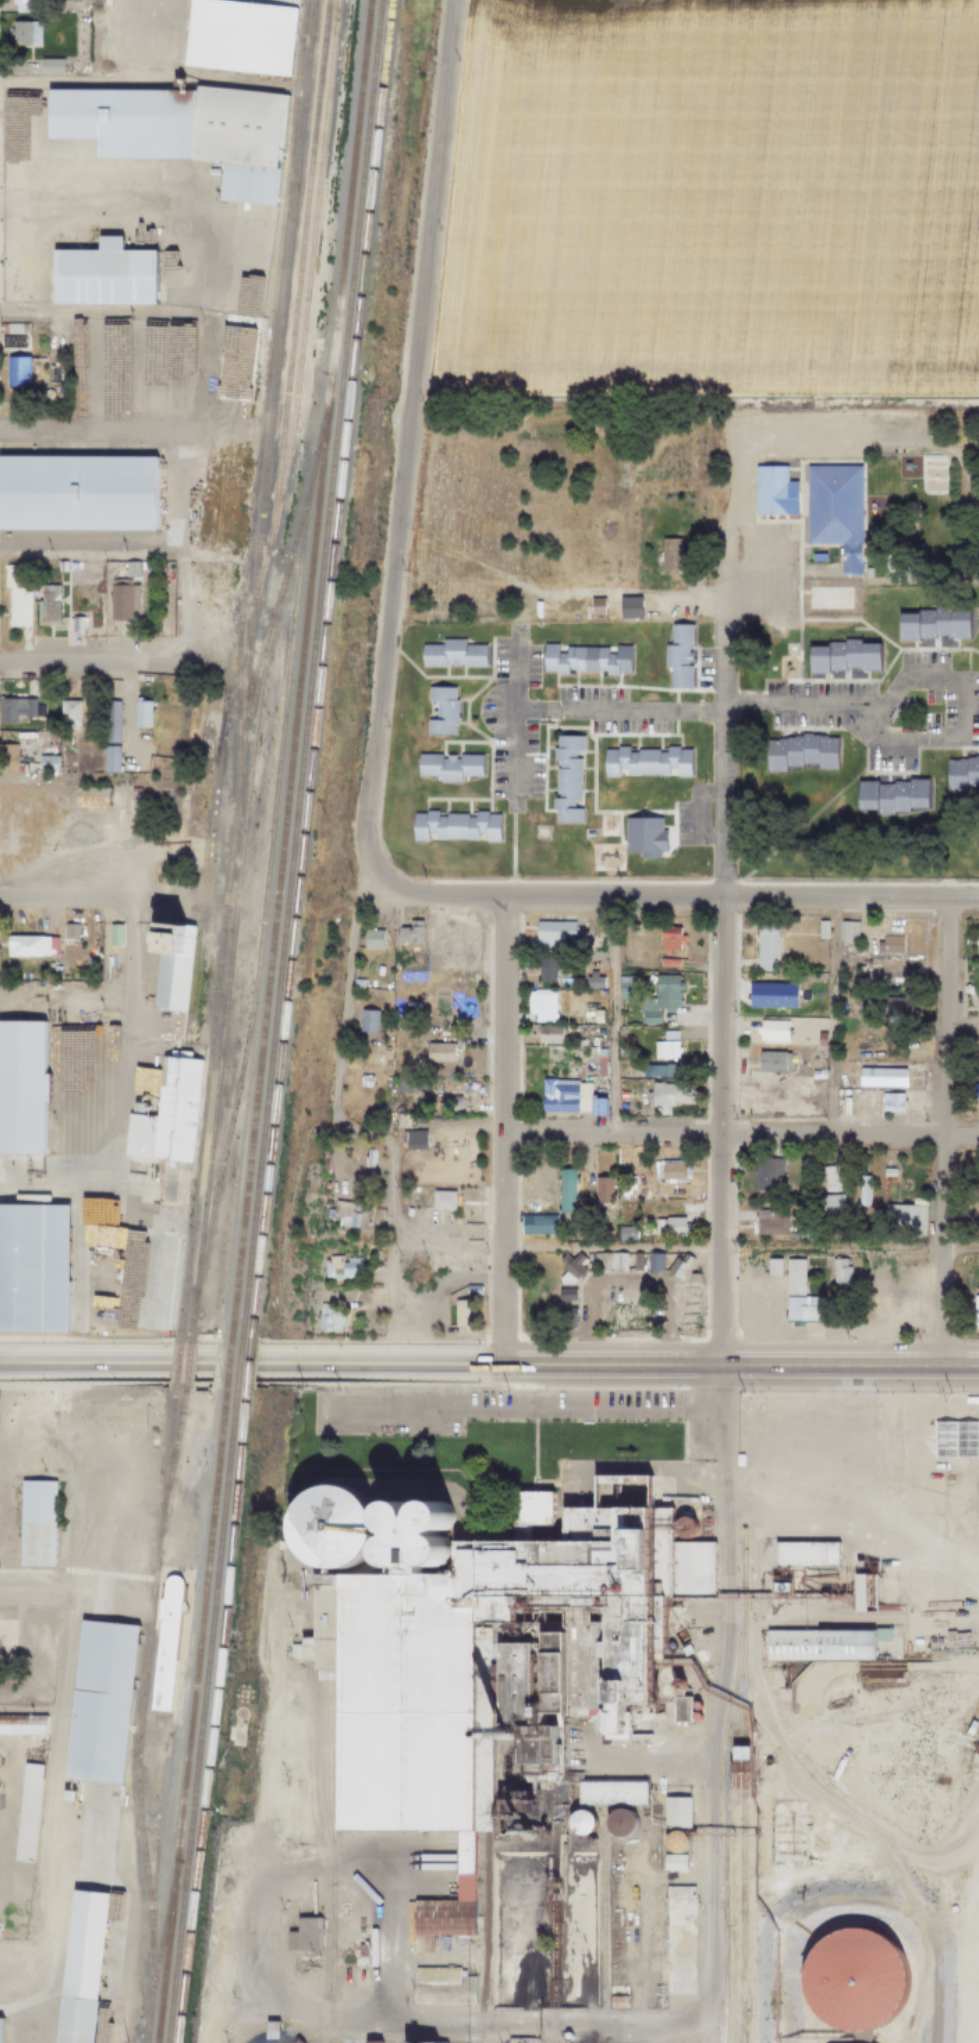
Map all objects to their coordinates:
building: (22, 5)
building: (25, 33)
building: (241, 35)
building: (51, 66)
road: (223, 82)
road: (121, 85)
building: (181, 131)
road: (14, 144)
crop: (713, 197)
road: (59, 204)
road: (194, 211)
road: (25, 259)
road: (214, 265)
railway: (309, 265)
building: (103, 275)
railway: (283, 306)
road: (105, 315)
building: (14, 328)
building: (239, 358)
building: (18, 372)
road: (80, 372)
road: (203, 374)
railway: (264, 388)
road: (407, 427)
road: (95, 430)
parking lot: (816, 434)
road: (751, 435)
road: (951, 451)
building: (721, 473)
road: (165, 486)
building: (771, 492)
building: (75, 494)
building: (219, 505)
building: (833, 512)
road: (90, 543)
building: (668, 556)
building: (816, 558)
building: (59, 566)
building: (73, 566)
building: (129, 568)
parking lot: (772, 575)
building: (16, 594)
building: (121, 599)
railway: (276, 603)
road: (178, 604)
building: (45, 606)
building: (74, 624)
building: (930, 626)
building: (450, 654)
building: (676, 655)
building: (840, 656)
road: (81, 659)
building: (583, 660)
road: (513, 667)
parking lot: (713, 669)
railway: (248, 672)
railway: (299, 673)
railway: (310, 673)
railway: (321, 673)
parking lot: (944, 694)
building: (14, 709)
road: (616, 710)
building: (440, 711)
building: (140, 714)
building: (67, 715)
parking lot: (840, 720)
building: (106, 721)
parking lot: (628, 723)
road: (918, 738)
building: (798, 753)
building: (7, 756)
building: (108, 759)
road: (512, 760)
building: (644, 761)
building: (45, 764)
building: (447, 767)
building: (961, 774)
road: (120, 775)
building: (565, 779)
building: (890, 795)
building: (88, 796)
parking lot: (703, 816)
building: (453, 825)
building: (642, 837)
railway: (211, 840)
railway: (268, 847)
road: (509, 851)
road: (666, 896)
road: (97, 899)
building: (68, 930)
building: (821, 930)
building: (846, 930)
building: (408, 932)
building: (552, 932)
building: (112, 934)
building: (667, 938)
building: (370, 939)
building: (977, 943)
building: (887, 944)
building: (28, 945)
building: (764, 947)
railway: (230, 960)
building: (169, 962)
building: (398, 968)
building: (857, 969)
building: (50, 970)
building: (547, 970)
building: (591, 979)
road: (718, 982)
building: (24, 993)
building: (773, 995)
building: (9, 996)
building: (658, 998)
building: (978, 1000)
building: (541, 1002)
building: (891, 1006)
road: (87, 1016)
road: (612, 1016)
road: (831, 1017)
building: (365, 1021)
building: (598, 1024)
building: (793, 1026)
building: (766, 1029)
building: (547, 1034)
building: (819, 1037)
building: (664, 1049)
building: (437, 1052)
building: (771, 1061)
building: (598, 1062)
building: (660, 1070)
building: (816, 1077)
building: (880, 1077)
building: (361, 1081)
building: (402, 1084)
building: (20, 1087)
building: (836, 1092)
building: (843, 1092)
building: (667, 1095)
road: (116, 1096)
building: (567, 1098)
road: (63, 1102)
building: (889, 1102)
building: (447, 1103)
building: (165, 1115)
road: (334, 1115)
road: (499, 1129)
road: (937, 1132)
road: (739, 1136)
building: (410, 1139)
road: (297, 1148)
building: (368, 1158)
building: (972, 1171)
building: (670, 1172)
building: (764, 1174)
building: (651, 1184)
building: (827, 1188)
building: (600, 1189)
building: (564, 1190)
building: (862, 1190)
road: (143, 1193)
building: (622, 1196)
building: (441, 1200)
building: (620, 1203)
building: (346, 1216)
building: (900, 1220)
building: (536, 1224)
building: (771, 1224)
building: (668, 1227)
building: (624, 1233)
building: (797, 1235)
road: (738, 1248)
road: (74, 1261)
building: (594, 1261)
building: (614, 1261)
building: (452, 1262)
building: (632, 1262)
building: (651, 1262)
building: (680, 1265)
building: (32, 1266)
building: (771, 1267)
building: (567, 1268)
building: (338, 1271)
road: (384, 1273)
building: (838, 1273)
building: (141, 1276)
building: (791, 1277)
road: (626, 1280)
road: (457, 1281)
building: (688, 1285)
building: (470, 1292)
building: (564, 1298)
building: (800, 1308)
building: (975, 1309)
building: (465, 1313)
building: (564, 1317)
building: (689, 1317)
building: (327, 1319)
road: (235, 1365)
railway: (227, 1367)
railway: (236, 1367)
railway: (247, 1367)
railway: (175, 1368)
railway: (186, 1368)
road: (724, 1368)
parking lot: (478, 1406)
road: (519, 1410)
road: (63, 1414)
railway: (175, 1450)
building: (739, 1459)
road: (72, 1475)
building: (532, 1508)
building: (418, 1513)
storage tank: (418, 1513)
building: (383, 1514)
storage tank: (383, 1514)
building: (34, 1523)
building: (326, 1525)
storage tank: (326, 1525)
building: (685, 1527)
storage tank: (685, 1527)
road: (854, 1531)
building: (419, 1547)
storage tank: (419, 1547)
building: (384, 1548)
storage tank: (384, 1548)
building: (805, 1553)
building: (780, 1586)
building: (865, 1592)
road: (35, 1593)
road: (107, 1594)
road: (821, 1618)
road: (20, 1641)
building: (164, 1642)
building: (669, 1644)
storage tank: (669, 1644)
building: (834, 1644)
building: (685, 1649)
building: (490, 1665)
building: (880, 1666)
road: (880, 1666)
road: (942, 1666)
building: (659, 1673)
storage tank: (659, 1673)
building: (858, 1676)
building: (677, 1683)
storage tank: (677, 1683)
road: (695, 1684)
road: (757, 1700)
building: (97, 1702)
railway: (743, 1702)
building: (695, 1705)
storage tank: (695, 1705)
road: (29, 1707)
building: (680, 1707)
road: (310, 1711)
railway: (191, 1715)
railway: (201, 1715)
railway: (214, 1715)
building: (695, 1715)
storage tank: (695, 1715)
railway: (139, 1716)
building: (21, 1725)
building: (971, 1727)
road: (678, 1732)
road: (624, 1764)
building: (739, 1766)
railway: (743, 1766)
railway: (323, 1769)
building: (796, 1783)
road: (855, 1783)
railway: (725, 1784)
road: (5, 1788)
building: (611, 1791)
building: (64, 1796)
building: (676, 1812)
road: (46, 1818)
building: (618, 1821)
storage tank: (618, 1821)
building: (579, 1822)
storage tank: (579, 1822)
road: (966, 1823)
road: (0, 1827)
railway: (160, 1827)
building: (23, 1834)
building: (674, 1842)
storage tank: (674, 1842)
railway: (333, 1857)
building: (674, 1862)
road: (670, 1878)
building: (676, 1891)
road: (129, 1900)
road: (632, 1915)
railway: (743, 1915)
road: (915, 1918)
railway: (163, 1929)
railway: (603, 1929)
building: (301, 1933)
railway: (554, 1933)
road: (390, 1937)
railway: (485, 1939)
road: (22, 1944)
building: (359, 1952)
road: (431, 1957)
building: (79, 1967)
building: (850, 1979)
storage tank: (850, 1979)
building: (441, 1985)
building: (618, 2001)
railway: (718, 2005)
building: (0, 2022)
road: (642, 2023)
railway: (743, 2029)
road: (684, 2031)
building: (272, 2035)
building: (567, 2036)
storage tank: (567, 2036)
building: (523, 2040)
building: (371, 2041)
building: (427, 2042)

